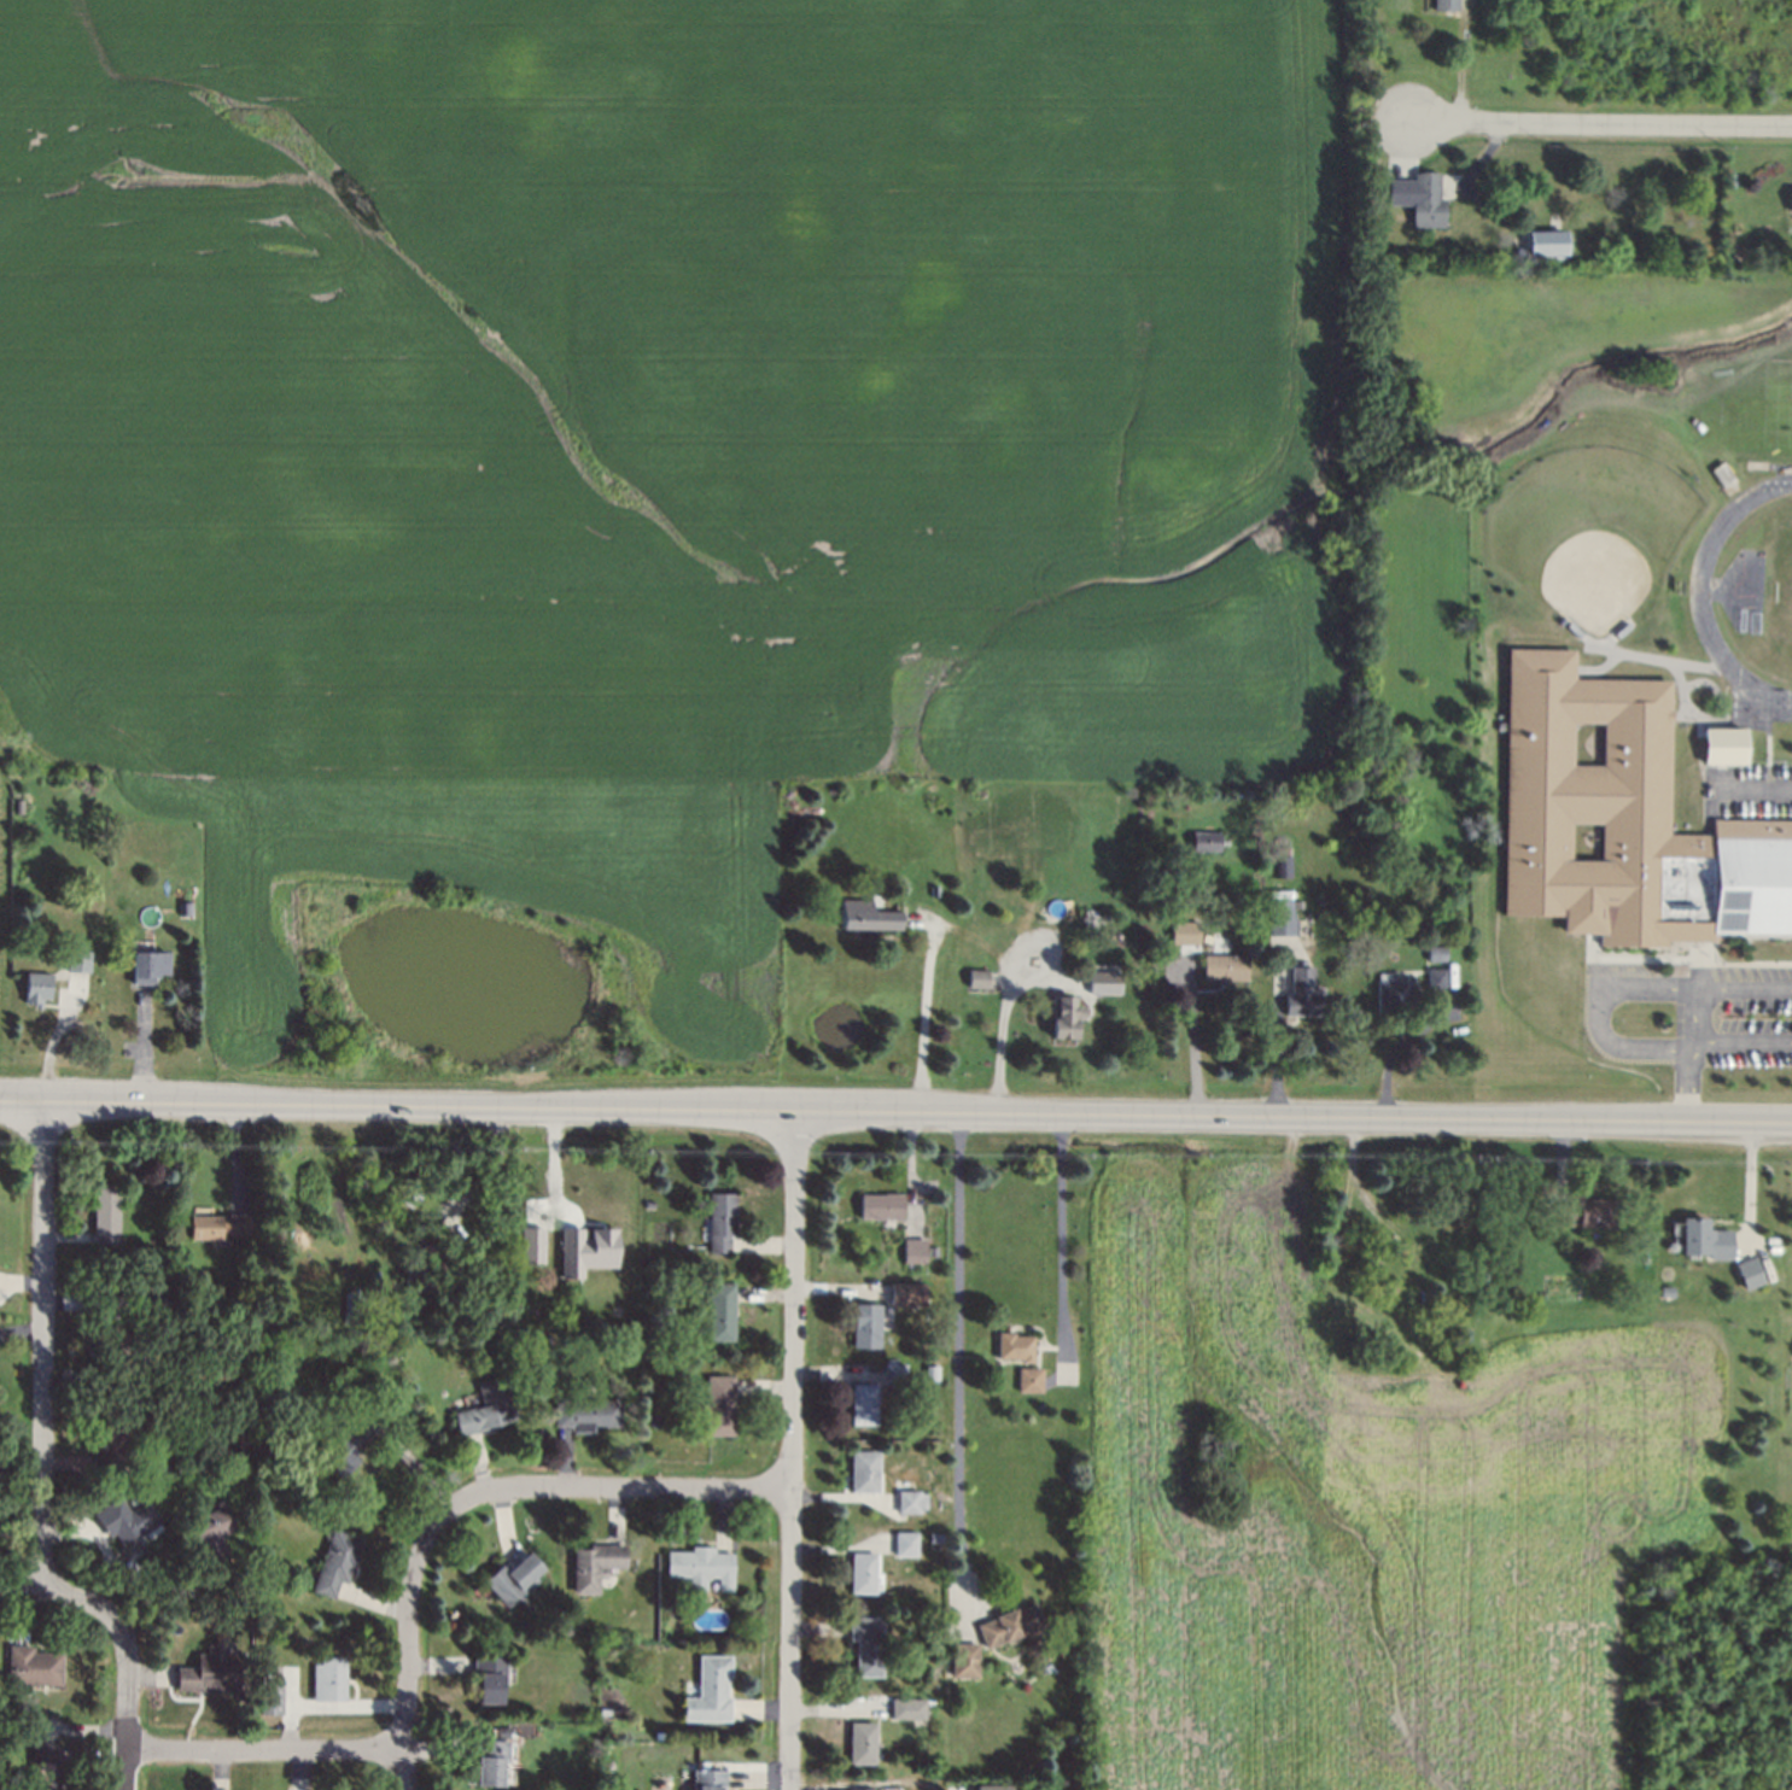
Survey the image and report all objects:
building: (1438, 4)
road: (1600, 121)
building: (1422, 201)
building: (1546, 241)
building: (1733, 251)
building: (1720, 472)
park: (1586, 531)
park: (1782, 593)
track: (1747, 596)
building: (1722, 744)
road: (1759, 786)
building: (16, 805)
building: (1198, 841)
building: (1371, 849)
building: (1635, 850)
building: (1274, 861)
building: (1282, 866)
building: (181, 908)
building: (859, 916)
building: (1274, 918)
building: (1178, 928)
building: (1429, 957)
building: (72, 960)
building: (145, 963)
building: (1218, 966)
building: (971, 977)
building: (1103, 979)
building: (1429, 979)
building: (31, 985)
building: (1296, 993)
building: (1387, 994)
road: (1600, 1014)
building: (1060, 1016)
road: (920, 1019)
road: (999, 1037)
road: (1190, 1052)
road: (1686, 1083)
road: (895, 1110)
road: (491, 1168)
building: (1453, 1206)
building: (881, 1207)
building: (104, 1213)
building: (1587, 1215)
building: (720, 1221)
road: (1061, 1223)
building: (217, 1225)
building: (1705, 1242)
building: (531, 1245)
building: (915, 1246)
building: (933, 1248)
building: (585, 1250)
building: (1750, 1270)
building: (420, 1276)
building: (1670, 1294)
building: (903, 1297)
building: (153, 1300)
building: (446, 1306)
building: (720, 1315)
building: (868, 1328)
road: (41, 1345)
building: (115, 1347)
building: (1015, 1350)
road: (956, 1352)
building: (676, 1369)
building: (934, 1370)
building: (894, 1376)
building: (1031, 1384)
building: (865, 1408)
building: (720, 1409)
building: (486, 1411)
building: (588, 1416)
building: (237, 1443)
building: (352, 1445)
building: (106, 1447)
road: (790, 1450)
building: (864, 1475)
road: (640, 1490)
building: (909, 1505)
crop: (1362, 1515)
building: (127, 1522)
building: (211, 1535)
building: (936, 1542)
building: (905, 1548)
building: (337, 1566)
building: (595, 1569)
building: (702, 1572)
building: (863, 1578)
building: (512, 1586)
road: (53, 1592)
road: (408, 1619)
building: (1011, 1628)
building: (866, 1648)
building: (964, 1662)
building: (34, 1669)
building: (210, 1674)
building: (490, 1680)
building: (331, 1681)
building: (713, 1690)
building: (270, 1692)
road: (123, 1698)
building: (907, 1712)
building: (863, 1745)
road: (261, 1753)
building: (490, 1762)
building: (49, 1768)
building: (710, 1782)
building: (993, 1786)
building: (863, 1789)

